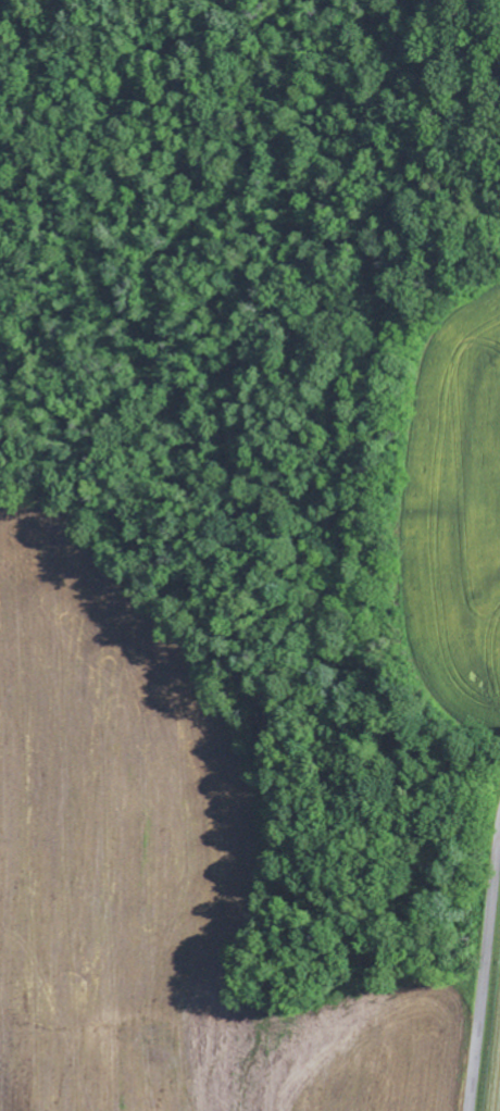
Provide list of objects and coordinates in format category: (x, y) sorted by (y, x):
road: (484, 970)

